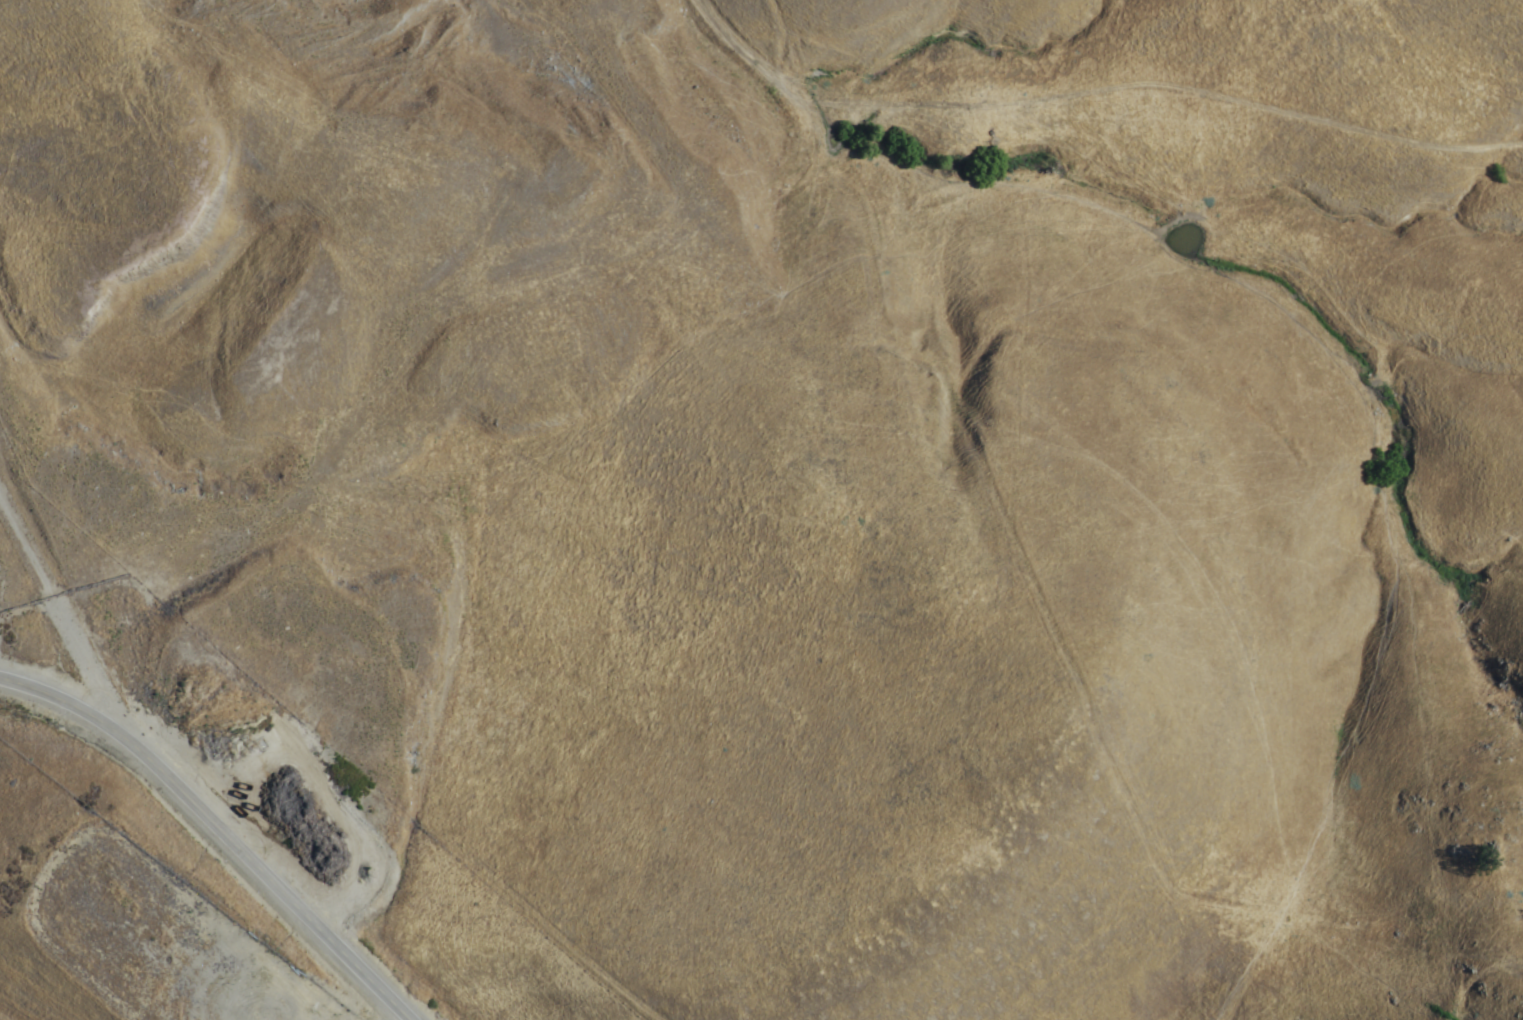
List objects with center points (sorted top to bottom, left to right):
road: (219, 829)

